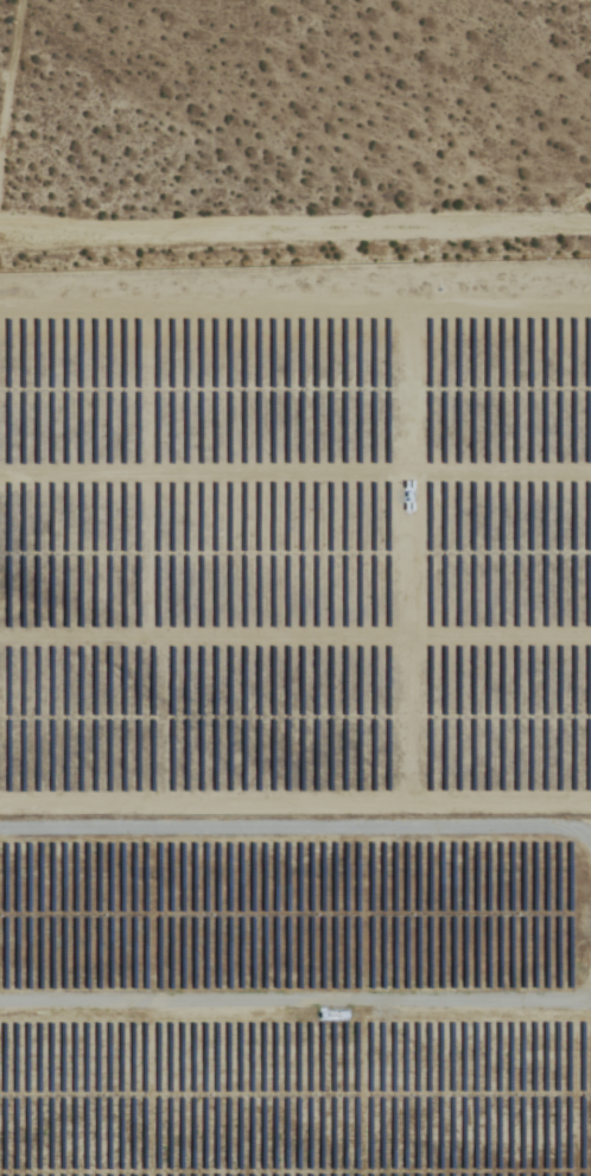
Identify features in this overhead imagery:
road: (295, 225)
solar farm: (295, 534)
solar farm: (295, 993)

